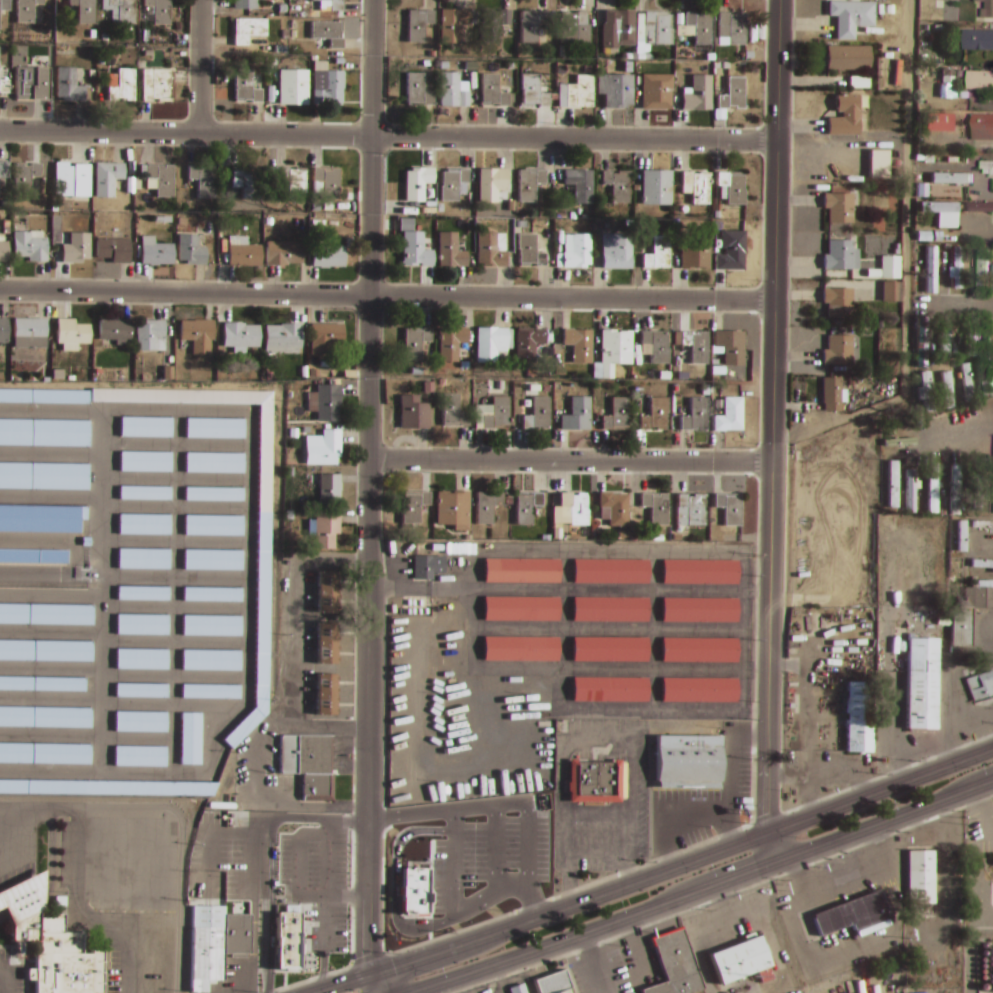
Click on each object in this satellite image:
building: (4, 5)
building: (336, 5)
building: (244, 6)
building: (988, 9)
building: (25, 10)
building: (84, 10)
building: (124, 10)
building: (160, 11)
building: (852, 17)
building: (419, 24)
building: (453, 24)
building: (494, 24)
building: (531, 25)
building: (700, 26)
building: (574, 27)
building: (735, 27)
building: (618, 28)
building: (654, 28)
building: (248, 29)
building: (328, 32)
building: (979, 39)
building: (850, 57)
road: (200, 66)
building: (981, 80)
building: (31, 83)
building: (155, 84)
building: (327, 84)
building: (857, 84)
building: (68, 85)
building: (4, 86)
building: (123, 86)
building: (246, 87)
building: (293, 87)
building: (418, 90)
building: (453, 90)
building: (616, 90)
building: (493, 91)
building: (534, 91)
building: (658, 91)
building: (580, 92)
building: (699, 94)
building: (734, 94)
building: (846, 114)
building: (941, 122)
building: (983, 127)
road: (388, 137)
building: (987, 165)
building: (4, 169)
building: (24, 178)
building: (66, 178)
building: (107, 178)
building: (953, 178)
building: (161, 179)
building: (202, 179)
building: (293, 182)
building: (245, 183)
building: (328, 183)
building: (417, 183)
building: (454, 184)
building: (491, 184)
building: (530, 184)
building: (580, 184)
building: (618, 185)
building: (657, 187)
building: (699, 187)
building: (733, 187)
building: (840, 208)
building: (982, 208)
building: (944, 213)
building: (30, 246)
building: (75, 247)
building: (192, 247)
building: (491, 248)
building: (113, 250)
building: (416, 250)
building: (451, 251)
building: (575, 251)
building: (4, 252)
building: (155, 252)
building: (533, 252)
building: (617, 252)
building: (284, 253)
building: (659, 253)
building: (696, 253)
building: (732, 253)
building: (244, 255)
building: (842, 256)
building: (328, 257)
building: (957, 264)
building: (933, 266)
building: (888, 267)
building: (983, 267)
road: (905, 268)
building: (992, 281)
road: (387, 294)
building: (889, 294)
building: (840, 302)
building: (28, 328)
building: (115, 329)
building: (3, 330)
building: (196, 330)
building: (71, 332)
building: (327, 334)
building: (947, 335)
building: (150, 336)
building: (240, 336)
building: (283, 338)
building: (970, 340)
building: (416, 343)
building: (491, 343)
building: (531, 343)
building: (453, 344)
building: (923, 344)
building: (579, 345)
building: (657, 346)
building: (697, 346)
building: (731, 346)
building: (616, 347)
building: (840, 351)
building: (987, 374)
building: (969, 383)
building: (949, 388)
building: (929, 392)
building: (834, 394)
building: (43, 397)
building: (328, 403)
building: (453, 411)
building: (414, 414)
building: (493, 414)
building: (536, 414)
building: (578, 415)
building: (618, 415)
building: (656, 415)
building: (730, 415)
building: (696, 416)
road: (772, 416)
building: (144, 427)
building: (214, 429)
building: (43, 433)
building: (990, 447)
building: (323, 448)
road: (571, 459)
building: (144, 462)
building: (214, 464)
building: (44, 477)
building: (891, 485)
road: (371, 487)
building: (931, 489)
building: (329, 491)
building: (954, 491)
building: (909, 492)
building: (143, 494)
building: (213, 495)
building: (414, 506)
building: (487, 507)
building: (453, 508)
building: (577, 508)
building: (616, 508)
building: (657, 508)
building: (729, 508)
building: (694, 509)
building: (524, 511)
building: (40, 519)
building: (142, 524)
building: (212, 525)
building: (983, 525)
building: (326, 532)
building: (961, 536)
building: (84, 542)
building: (457, 550)
building: (261, 556)
building: (32, 557)
building: (211, 559)
building: (142, 560)
building: (982, 565)
building: (426, 567)
building: (521, 571)
building: (612, 572)
building: (701, 573)
building: (326, 593)
building: (142, 594)
building: (211, 595)
building: (519, 609)
building: (611, 610)
building: (701, 611)
building: (45, 615)
building: (141, 625)
building: (211, 626)
building: (960, 628)
building: (326, 644)
building: (519, 649)
building: (611, 650)
building: (700, 651)
building: (45, 652)
building: (140, 659)
building: (210, 660)
building: (41, 684)
building: (920, 685)
building: (980, 686)
building: (610, 690)
building: (140, 691)
building: (700, 691)
building: (209, 692)
building: (325, 696)
building: (44, 718)
building: (857, 718)
building: (139, 722)
building: (189, 740)
building: (44, 755)
building: (138, 757)
building: (687, 762)
building: (315, 768)
building: (595, 782)
building: (106, 789)
road: (882, 791)
road: (887, 823)
road: (776, 848)
building: (919, 878)
building: (445, 882)
road: (572, 905)
building: (850, 914)
road: (601, 928)
building: (286, 942)
building: (215, 944)
building: (60, 958)
building: (738, 960)
building: (673, 965)
road: (340, 983)
building: (552, 983)
road: (381, 984)
building: (517, 989)

